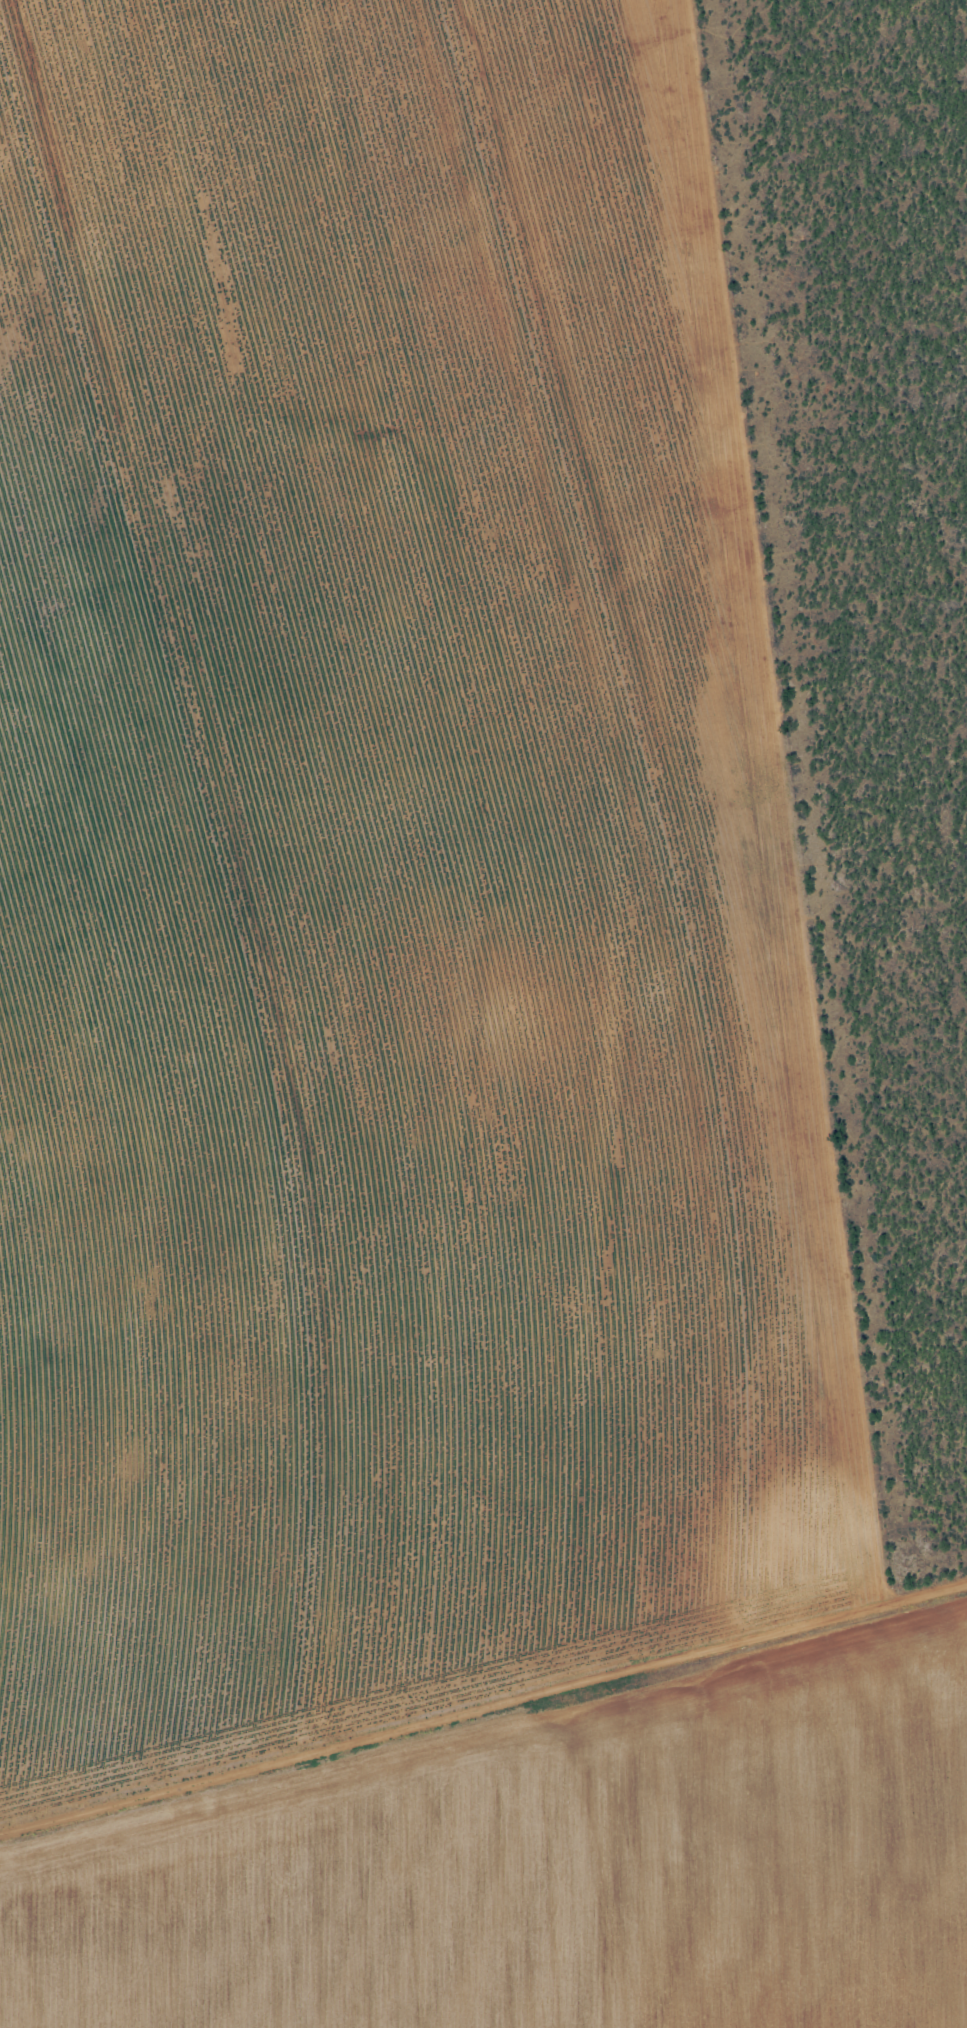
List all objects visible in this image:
road: (483, 1717)

